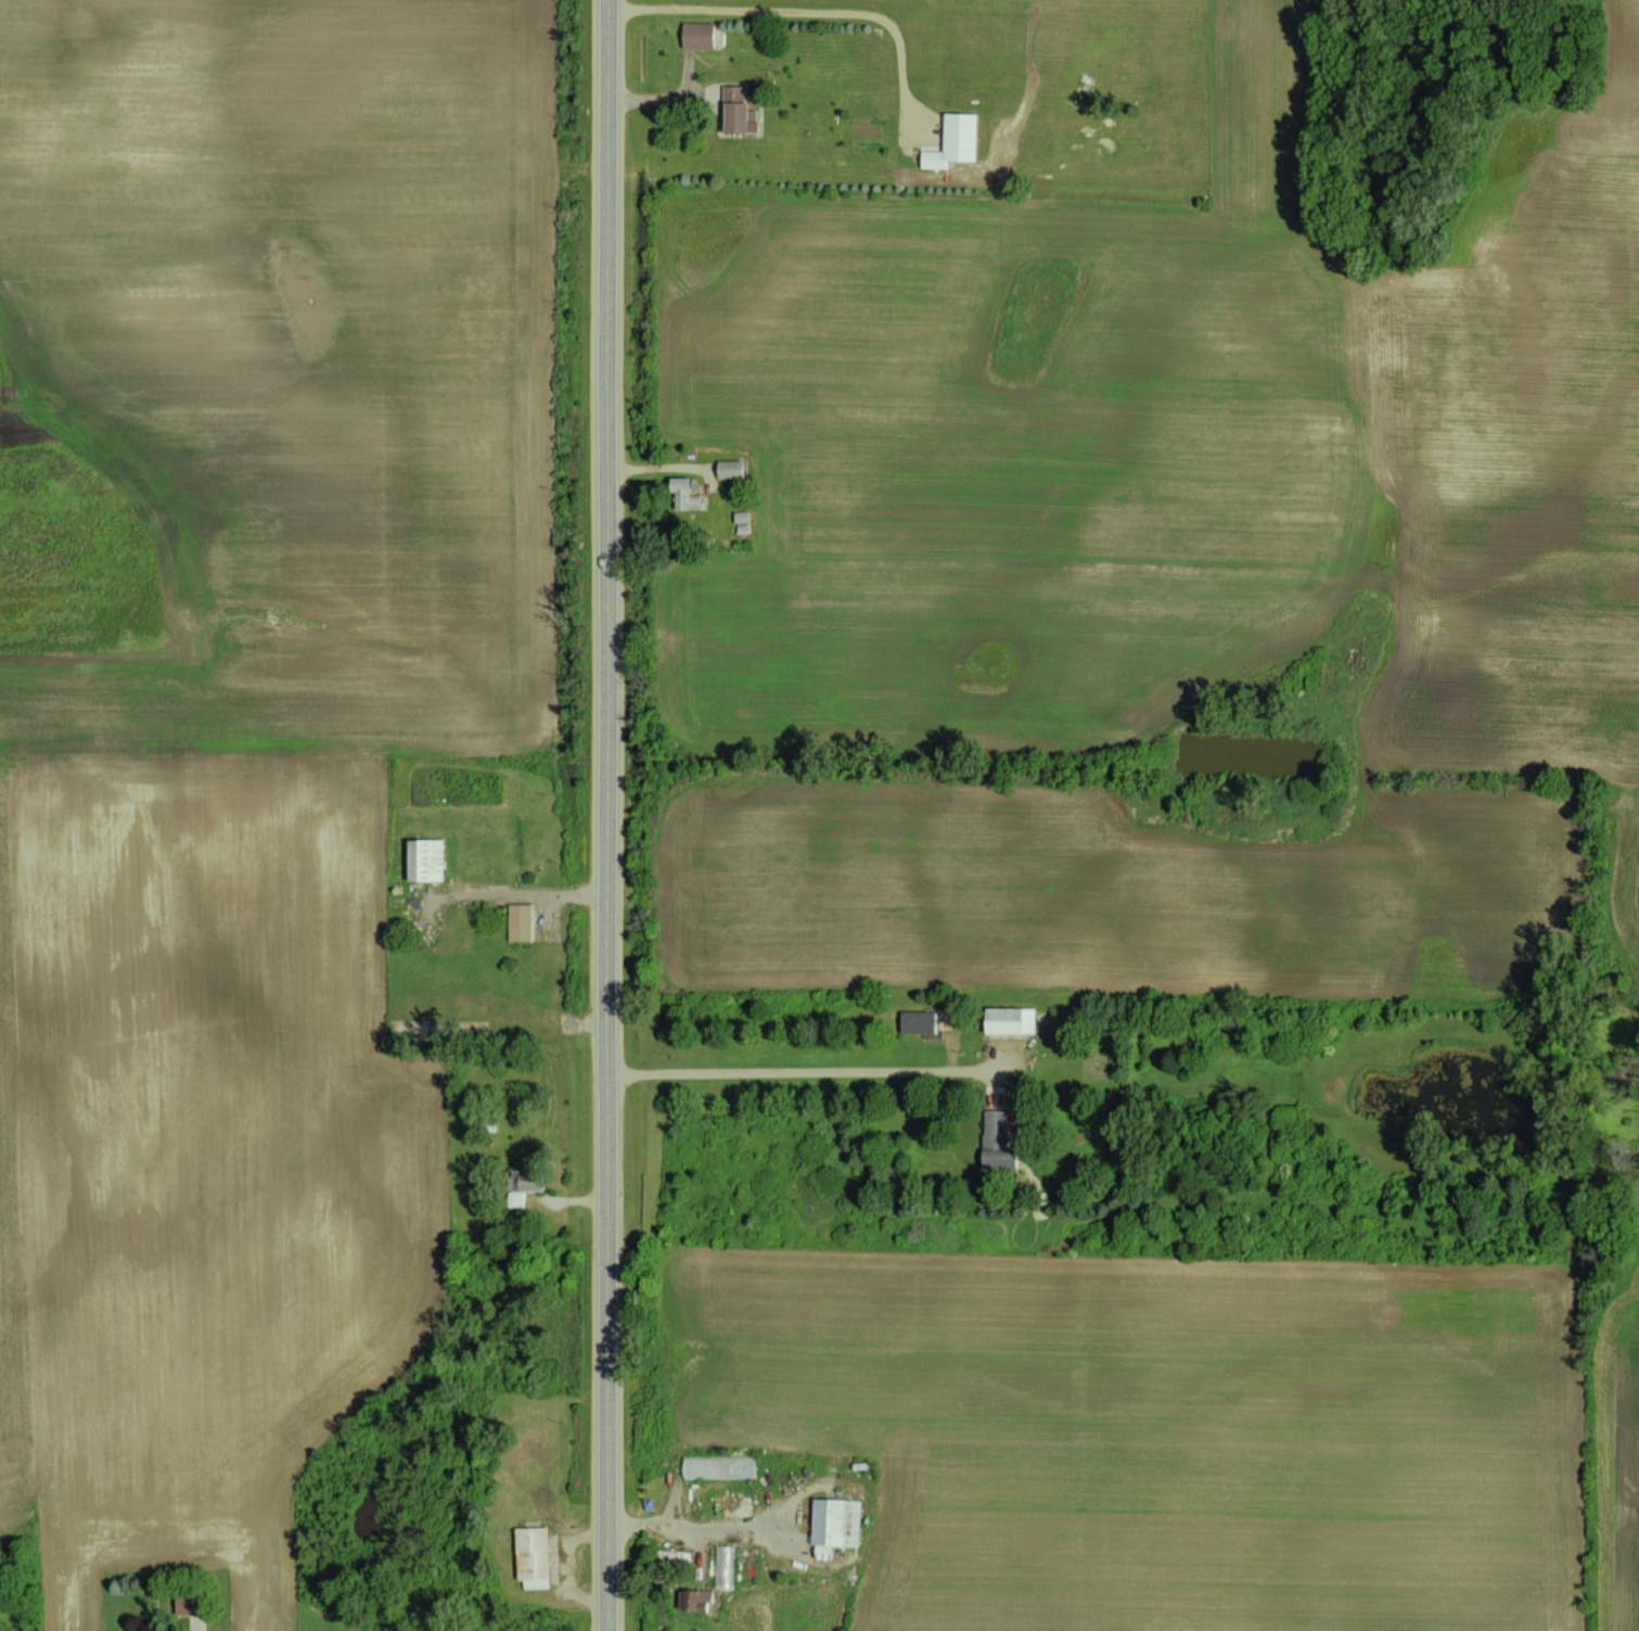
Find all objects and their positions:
building: (697, 34)
road: (661, 97)
building: (738, 109)
building: (956, 141)
building: (731, 469)
building: (683, 484)
road: (603, 815)
building: (428, 859)
building: (521, 921)
building: (1013, 1019)
building: (920, 1021)
road: (798, 1069)
building: (999, 1144)
building: (533, 1180)
building: (718, 1466)
building: (837, 1521)
road: (690, 1527)
building: (533, 1556)
building: (699, 1600)

